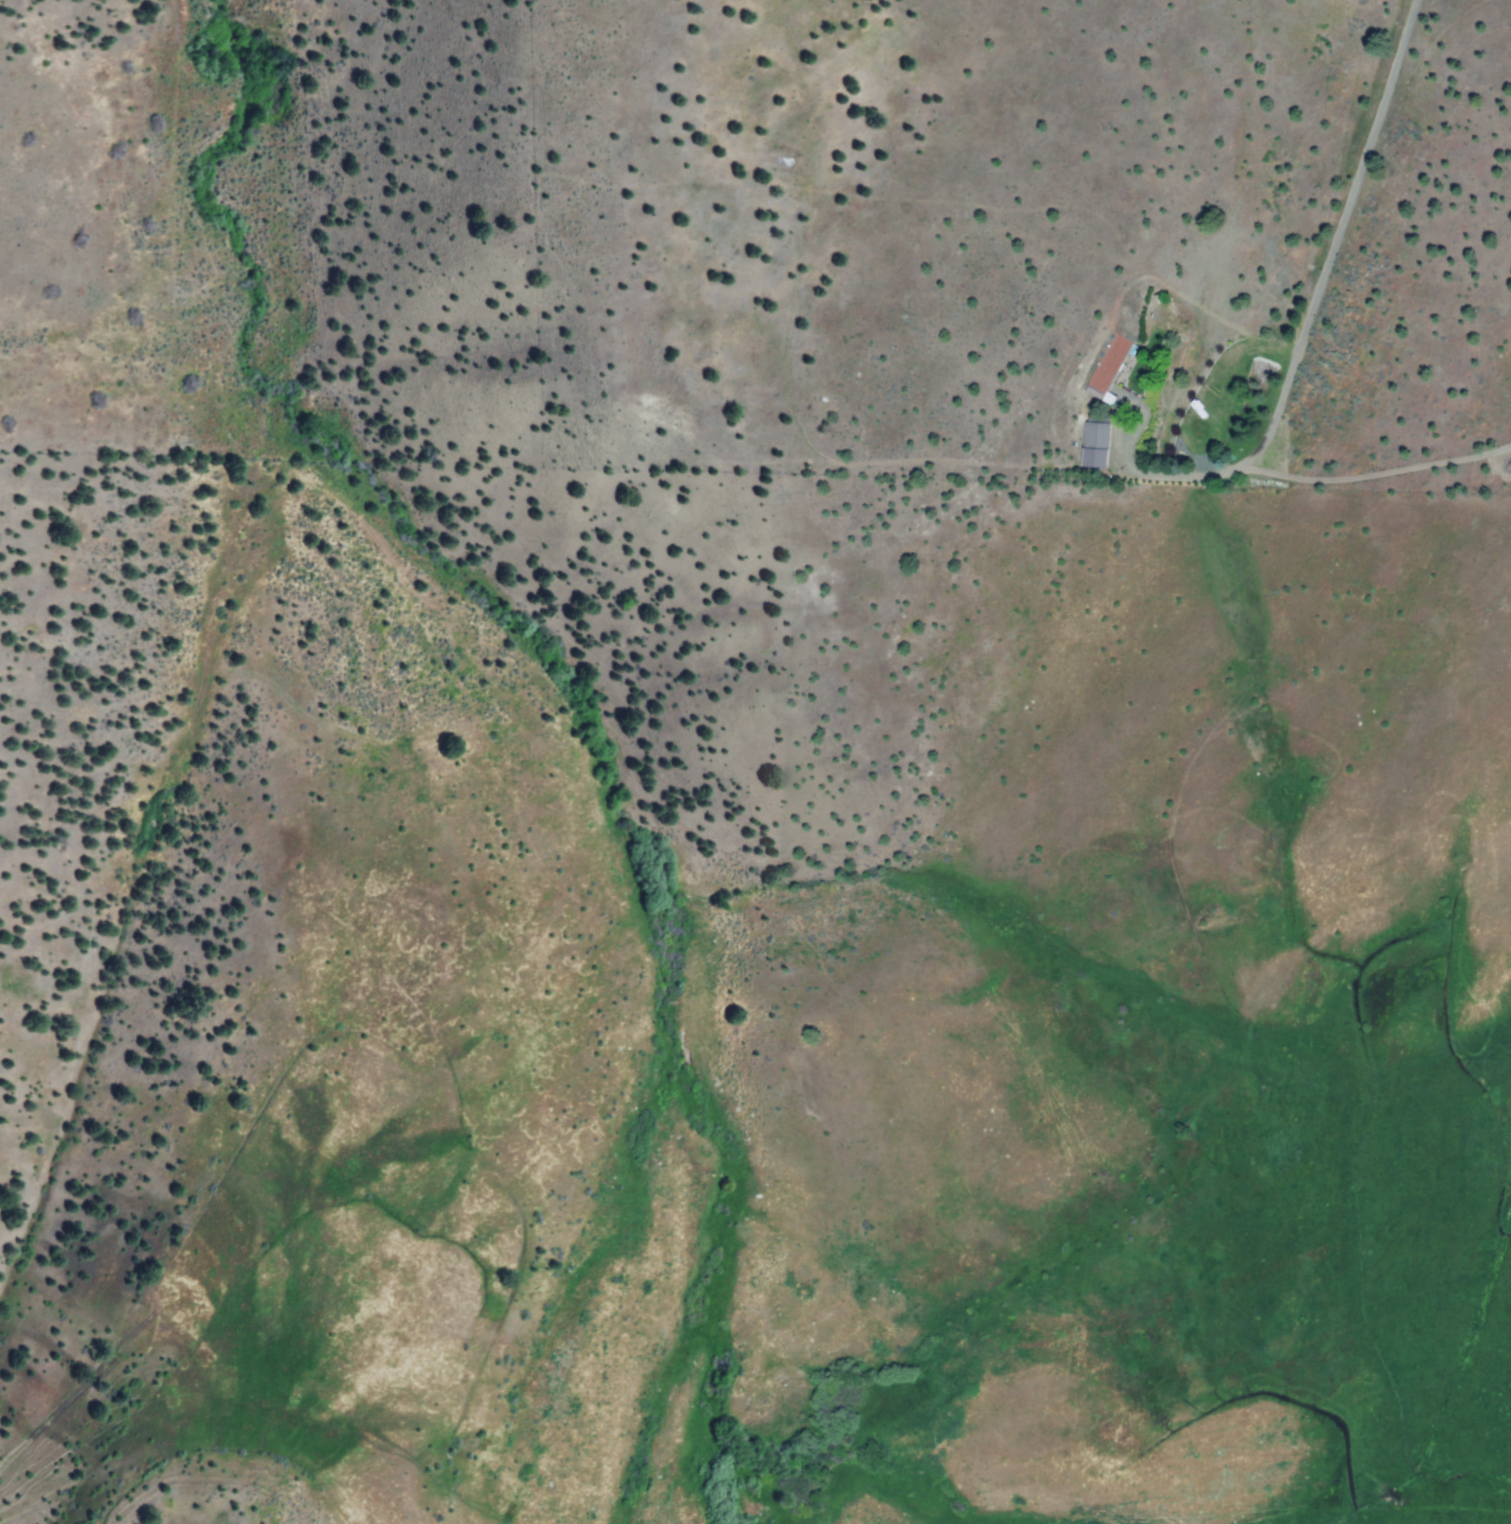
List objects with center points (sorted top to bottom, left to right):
building: (1106, 364)
building: (1093, 444)

